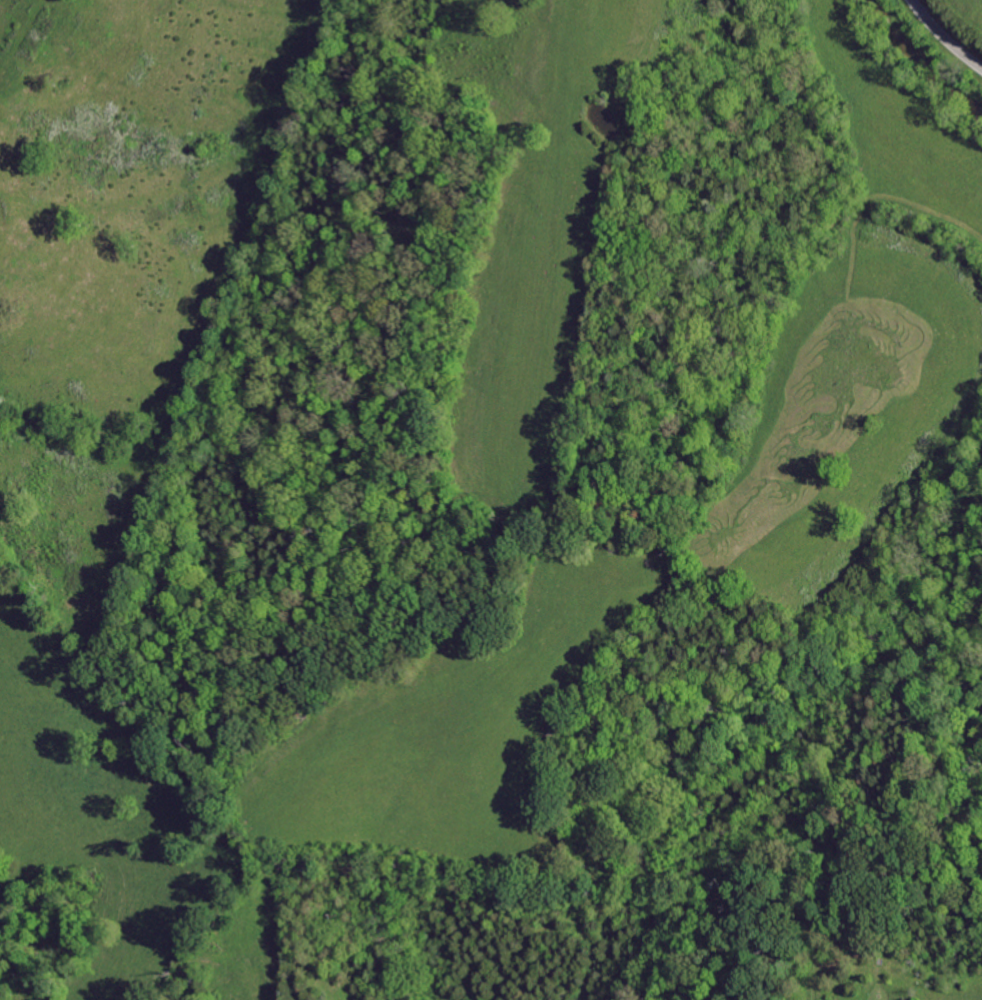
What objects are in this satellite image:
road: (944, 37)

